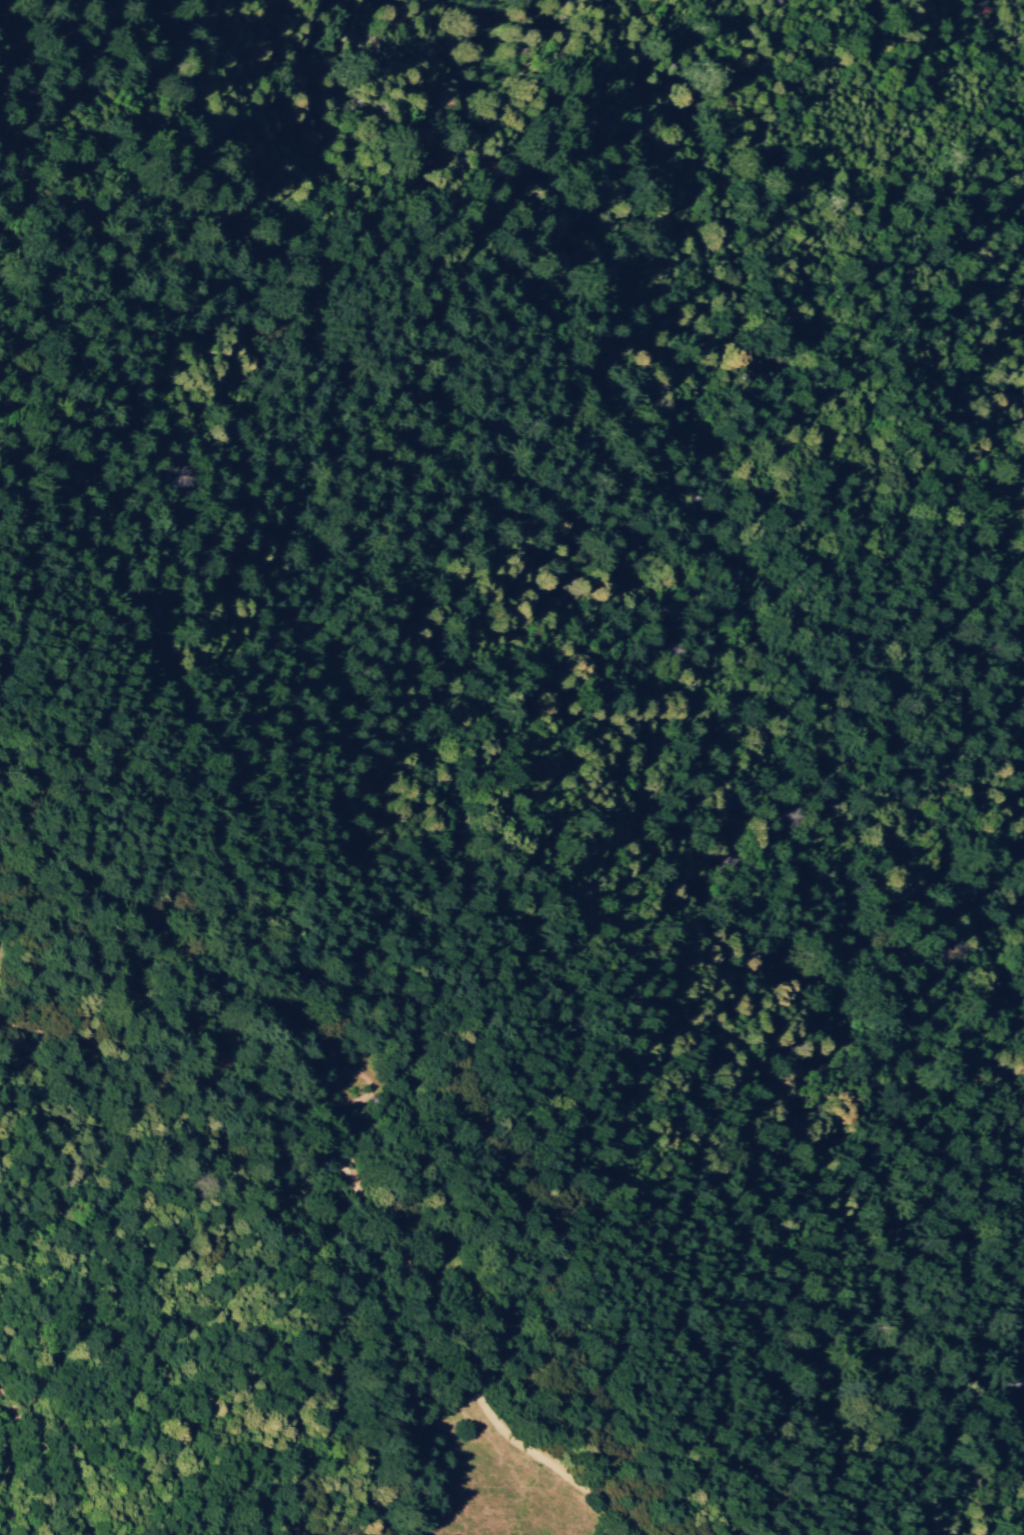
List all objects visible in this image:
road: (373, 1197)

